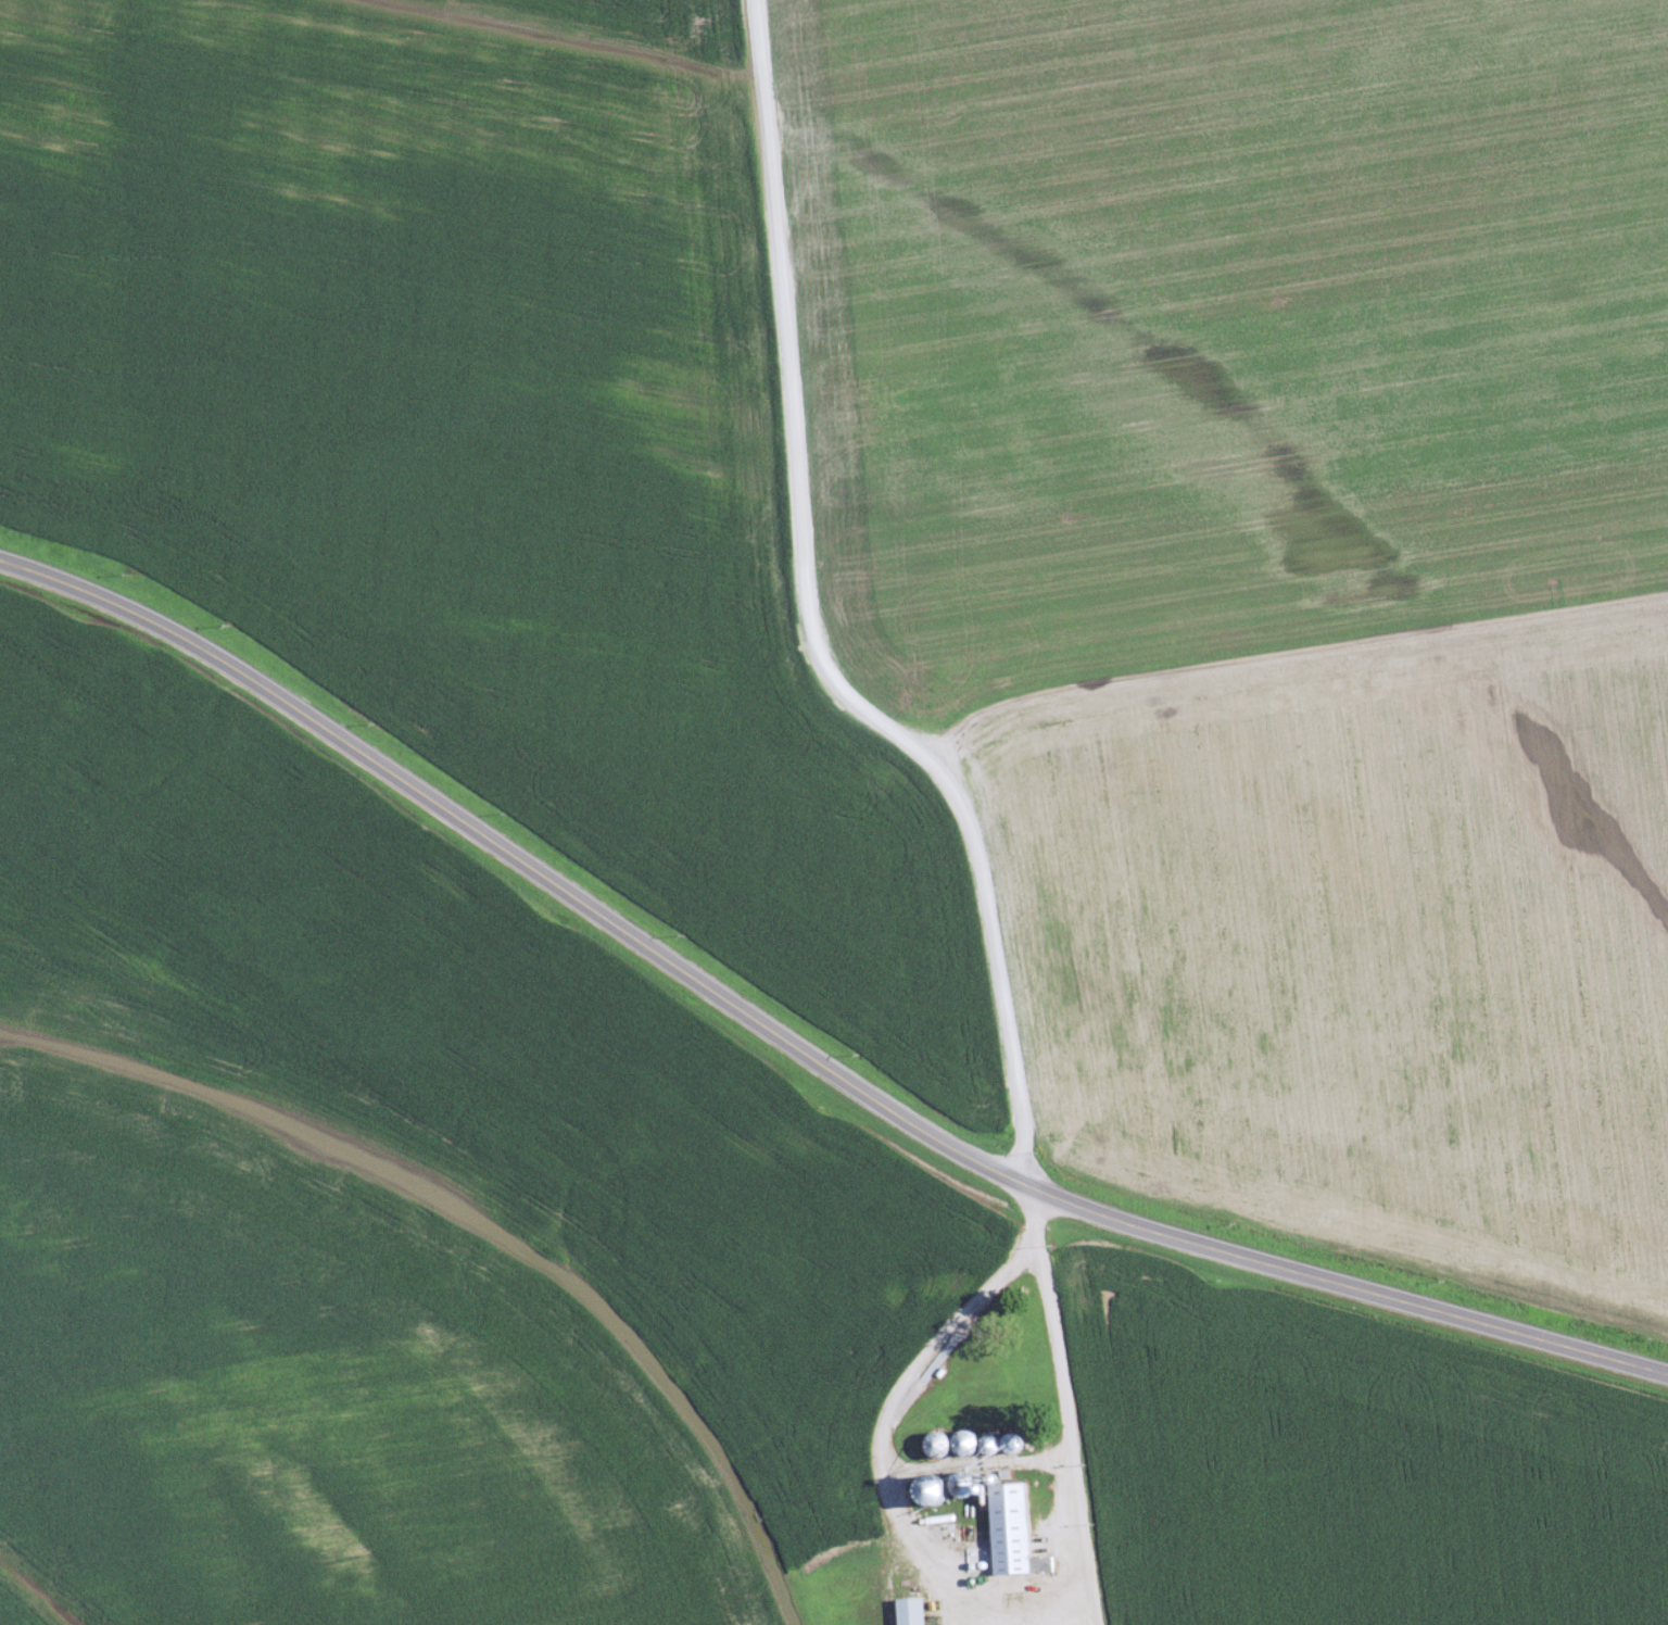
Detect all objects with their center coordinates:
road: (811, 631)
road: (796, 1046)
road: (933, 1340)
road: (1064, 1406)
building: (947, 1446)
road: (1008, 1456)
building: (1016, 1532)
road: (959, 1575)
building: (915, 1611)

